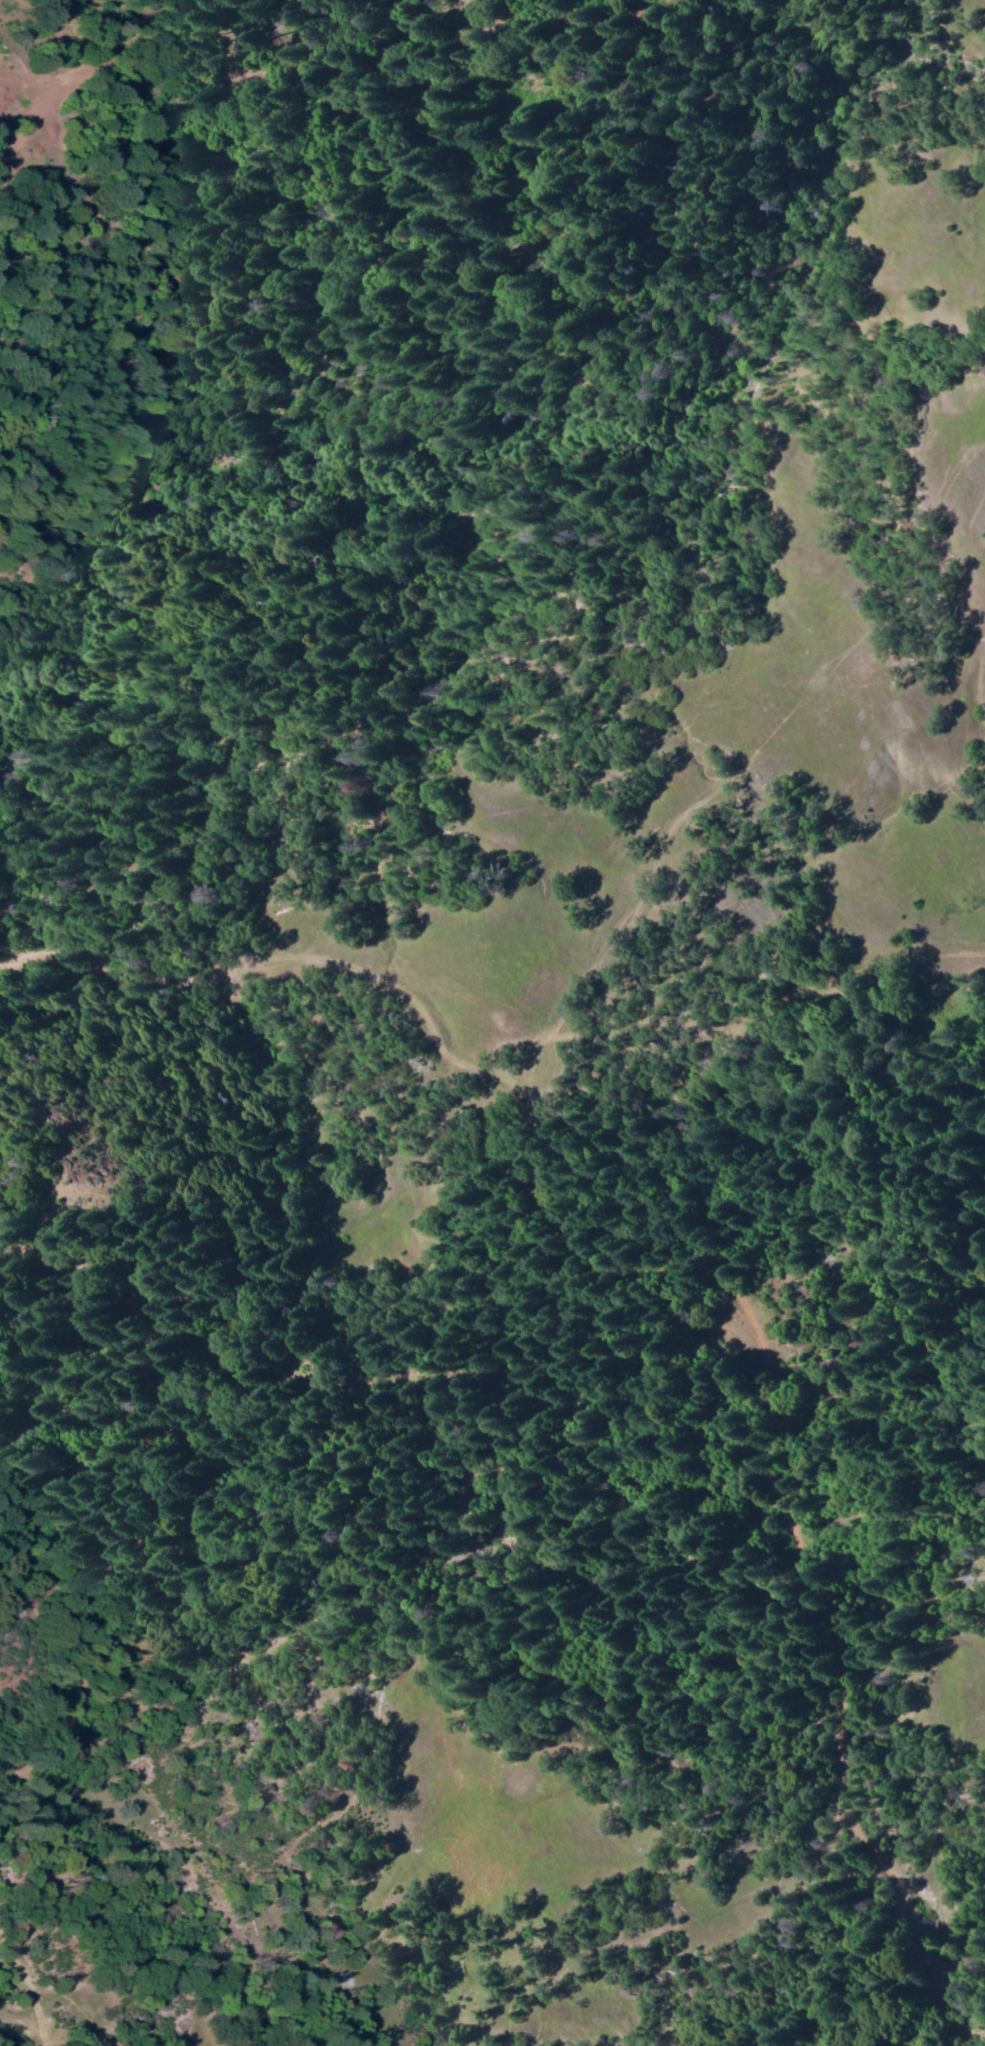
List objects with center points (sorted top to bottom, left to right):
road: (321, 89)
road: (543, 1400)

